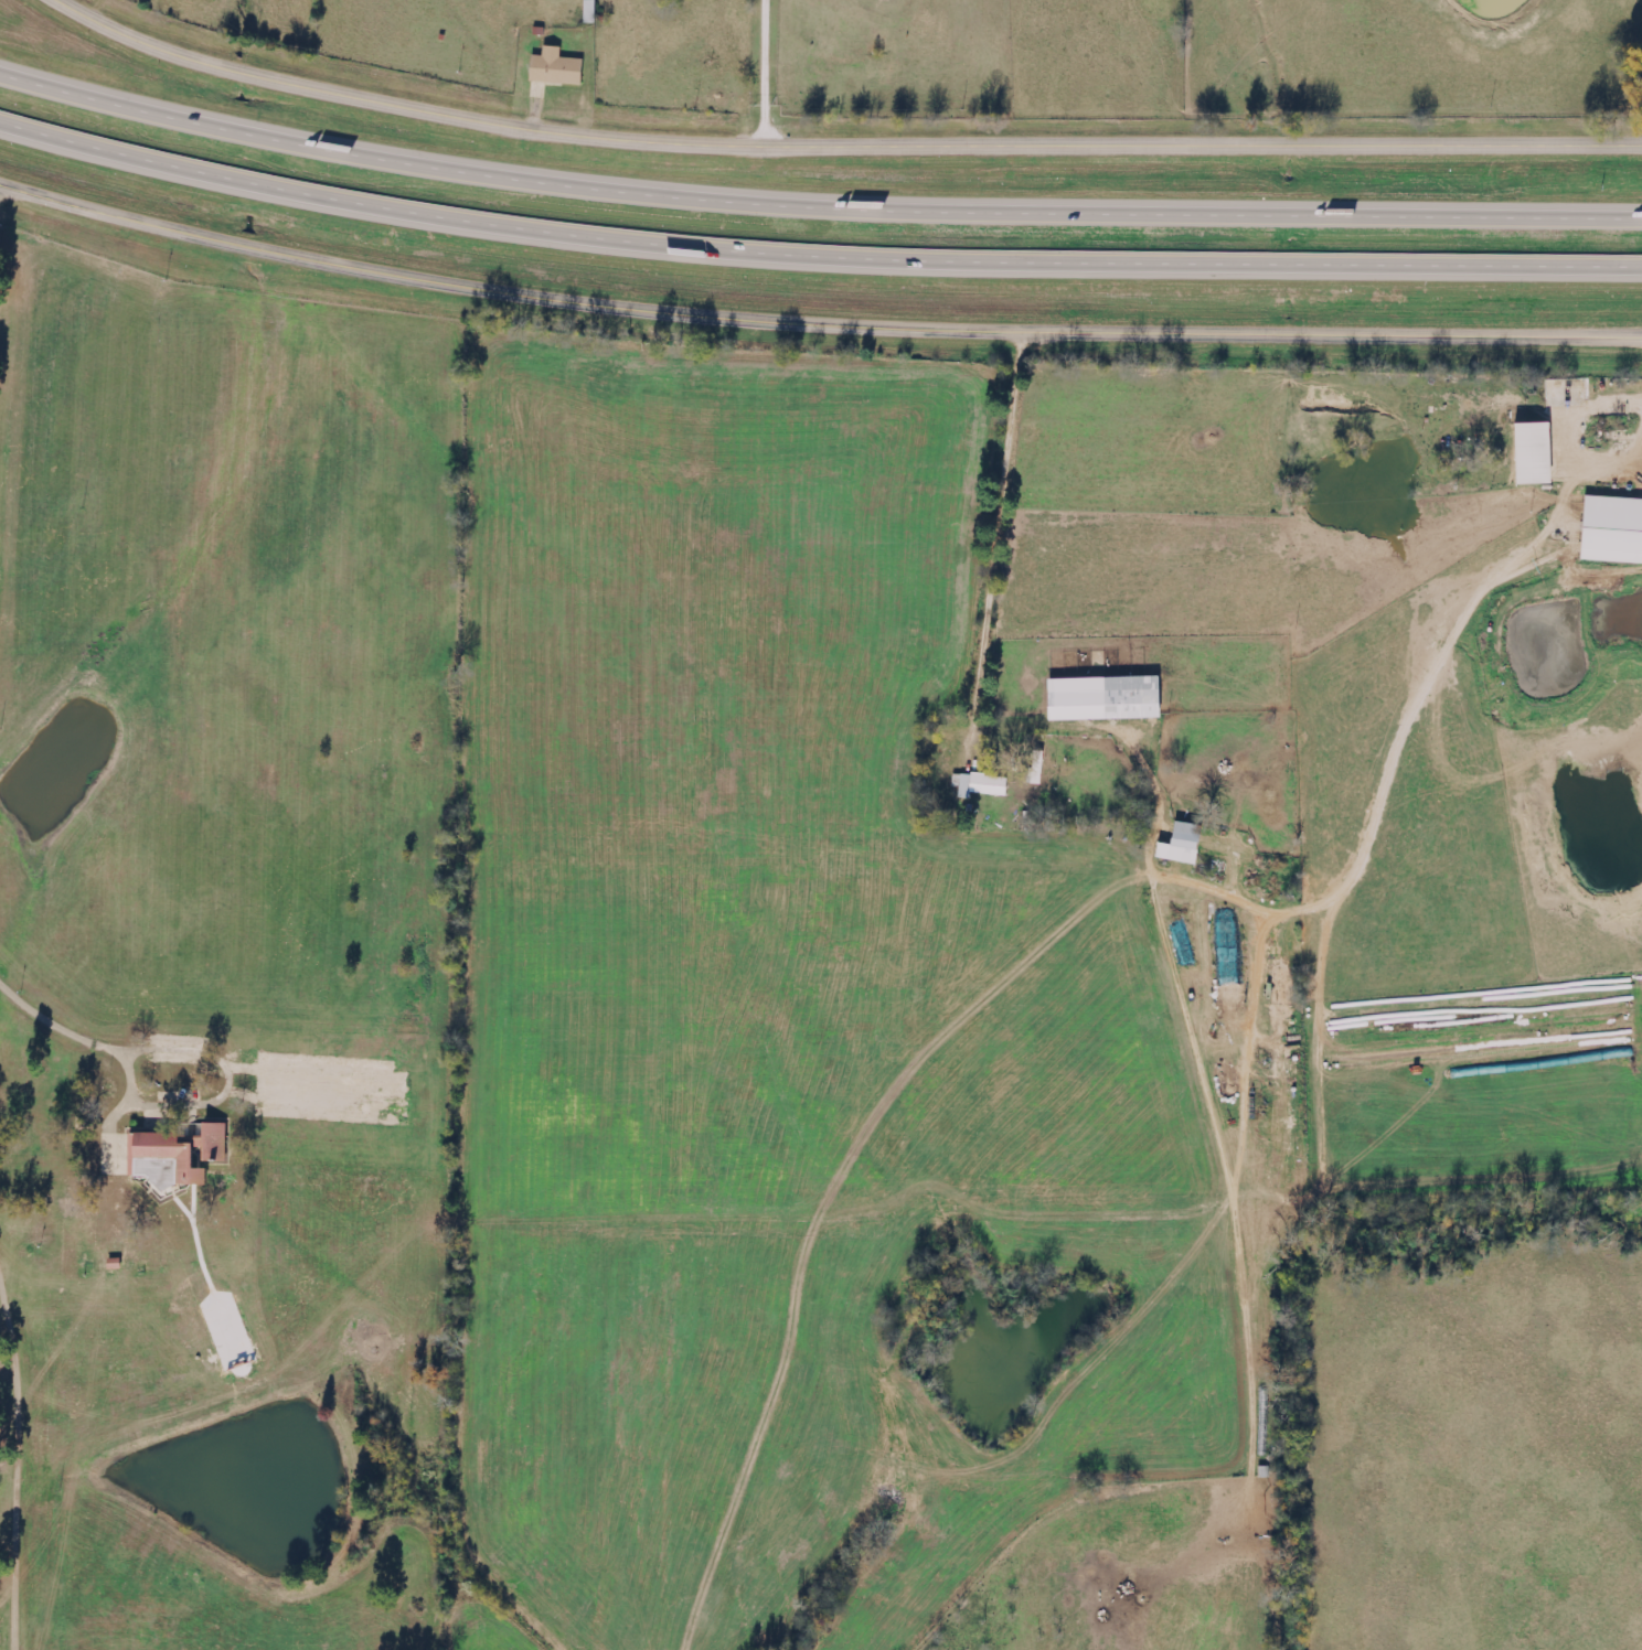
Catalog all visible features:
building: (557, 67)
road: (836, 149)
road: (814, 197)
road: (814, 249)
road: (813, 324)
building: (1535, 453)
building: (1613, 529)
building: (1105, 698)
building: (1038, 768)
building: (981, 785)
building: (1183, 844)

